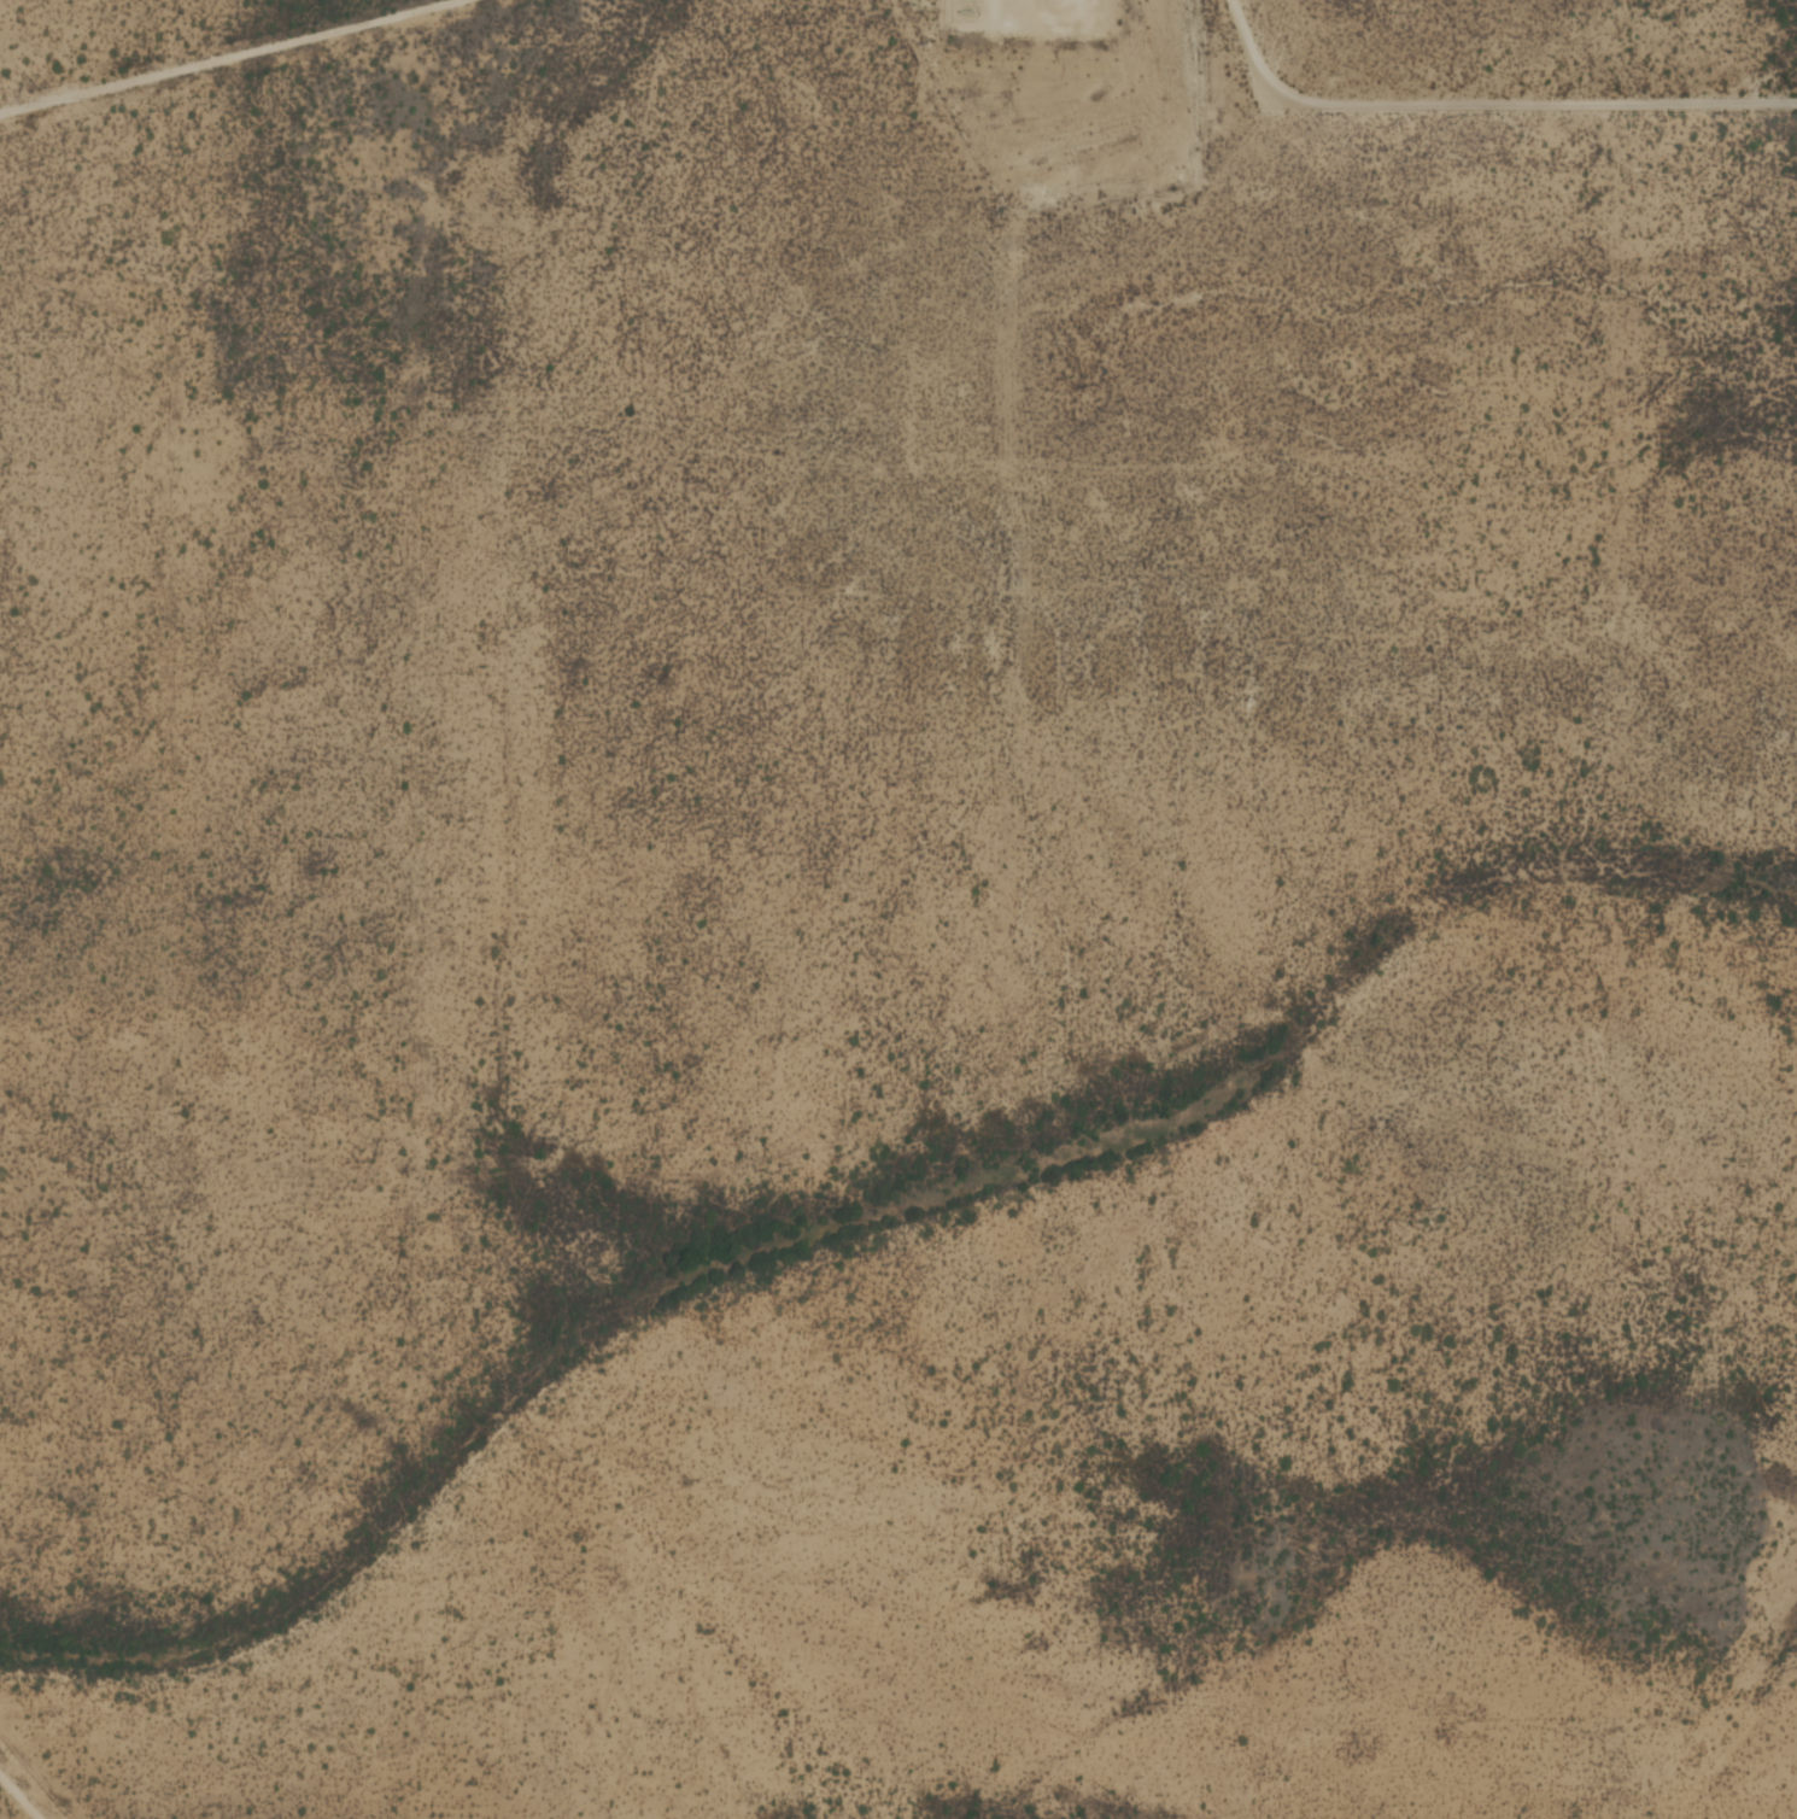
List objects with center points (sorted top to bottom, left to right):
road: (18, 1796)

